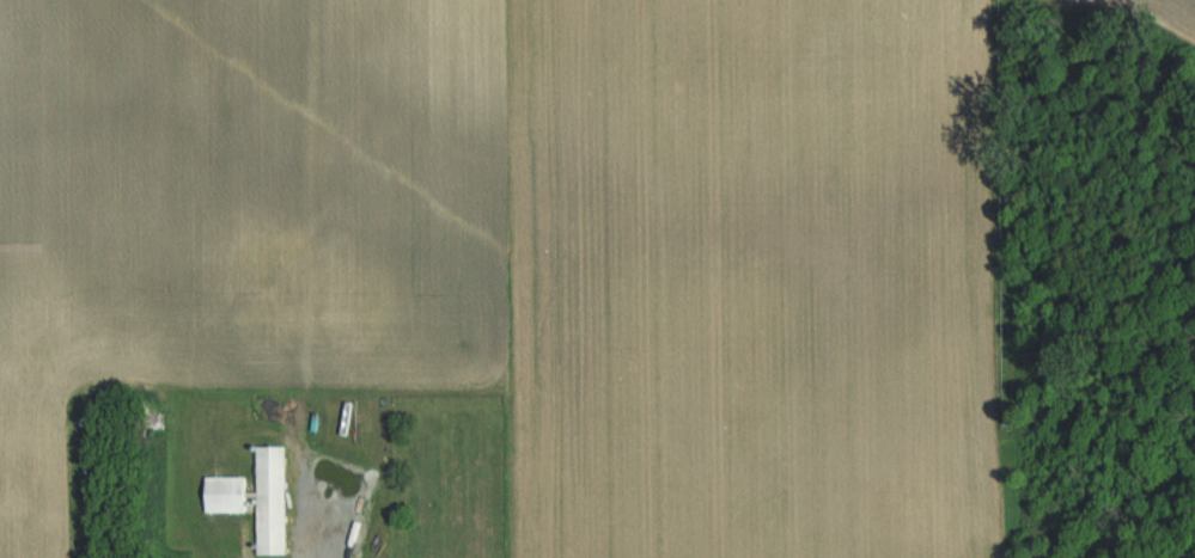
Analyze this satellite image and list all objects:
building: (228, 492)
building: (274, 498)

